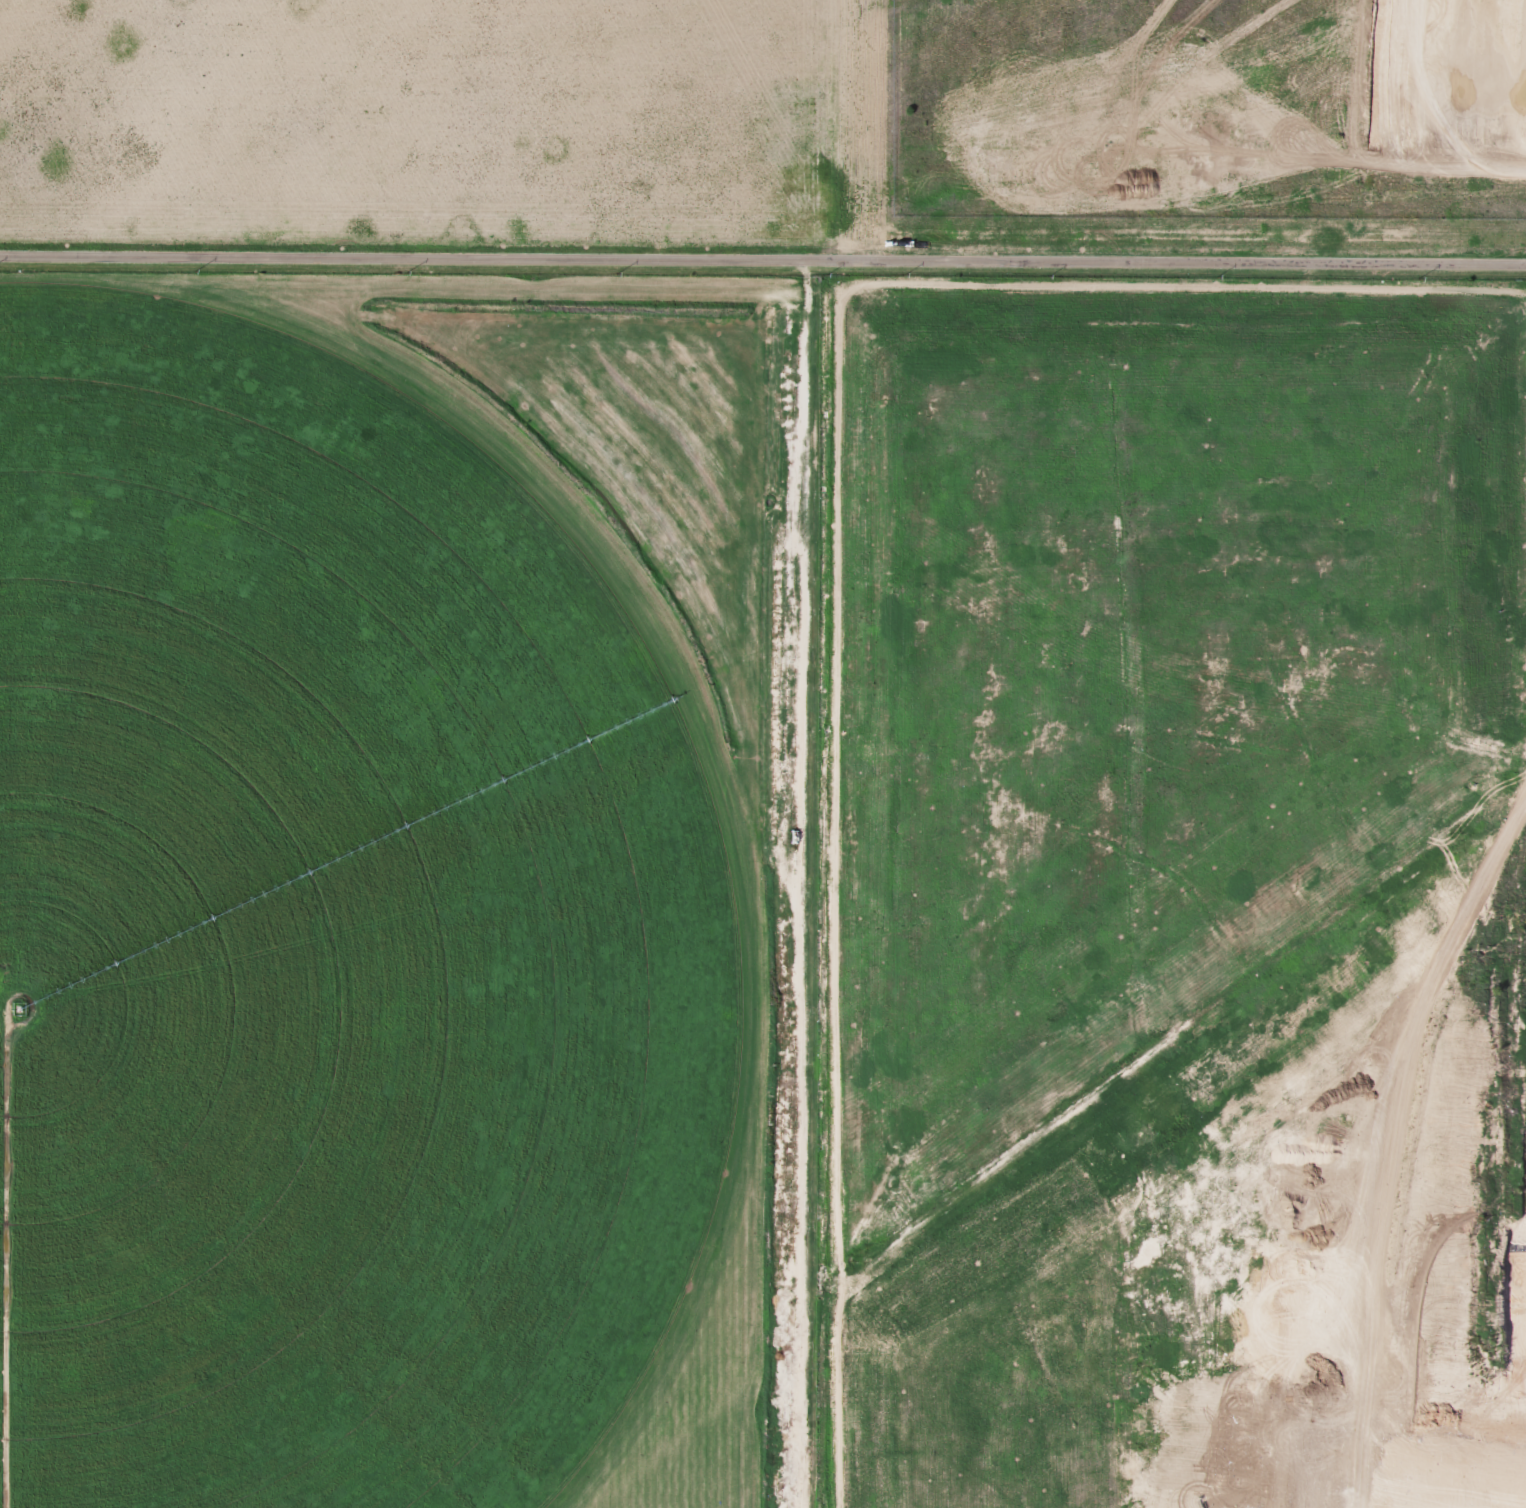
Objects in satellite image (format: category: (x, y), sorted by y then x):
road: (763, 261)

